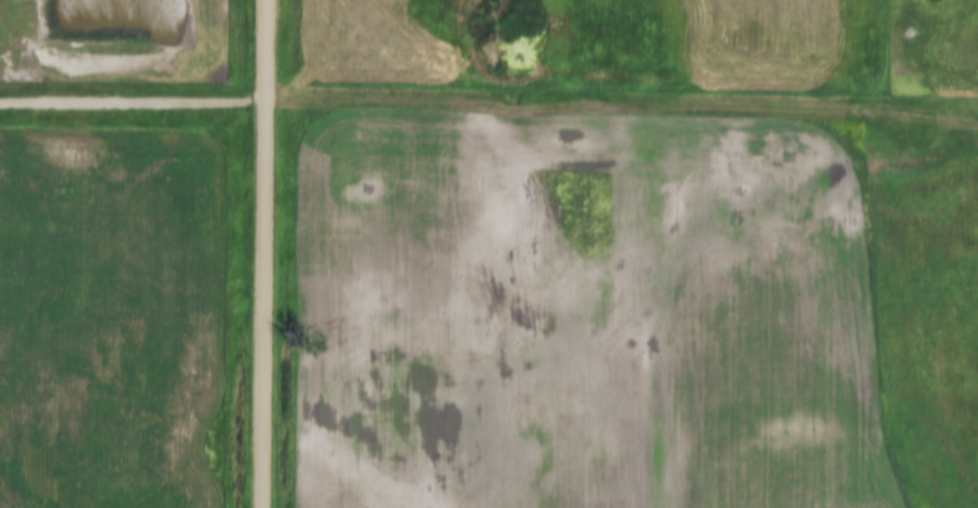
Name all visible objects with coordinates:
road: (134, 105)
road: (268, 253)

